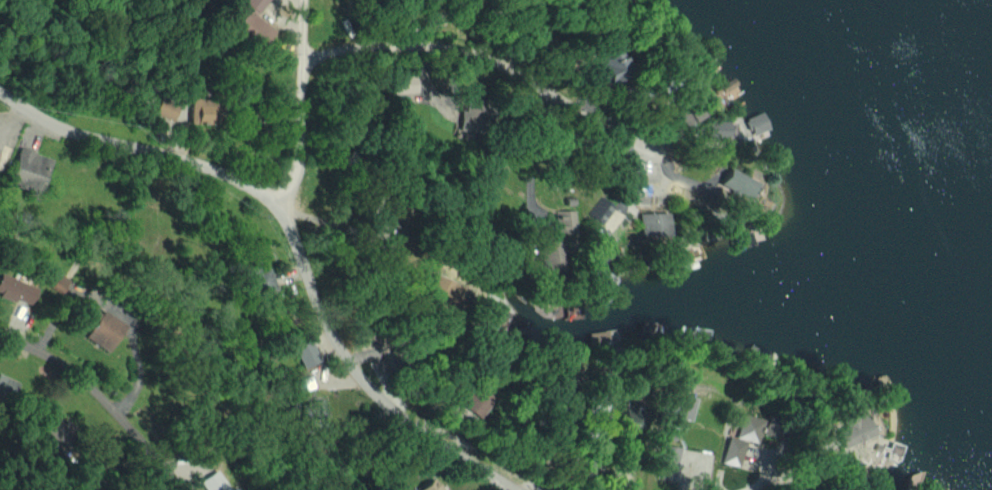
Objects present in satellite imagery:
building: (252, 21)
road: (468, 52)
building: (610, 63)
building: (403, 83)
road: (301, 106)
building: (165, 107)
building: (203, 110)
building: (684, 111)
building: (468, 120)
building: (755, 122)
building: (713, 129)
road: (142, 148)
road: (537, 155)
building: (30, 169)
building: (735, 182)
building: (598, 209)
building: (563, 223)
building: (654, 223)
road: (338, 225)
building: (262, 281)
building: (56, 283)
building: (15, 290)
building: (440, 291)
building: (101, 330)
building: (307, 353)
road: (365, 378)
building: (5, 386)
road: (102, 396)
building: (474, 400)
building: (680, 407)
building: (635, 411)
building: (746, 427)
building: (851, 427)
building: (731, 451)
building: (666, 462)
road: (760, 481)
building: (430, 485)

